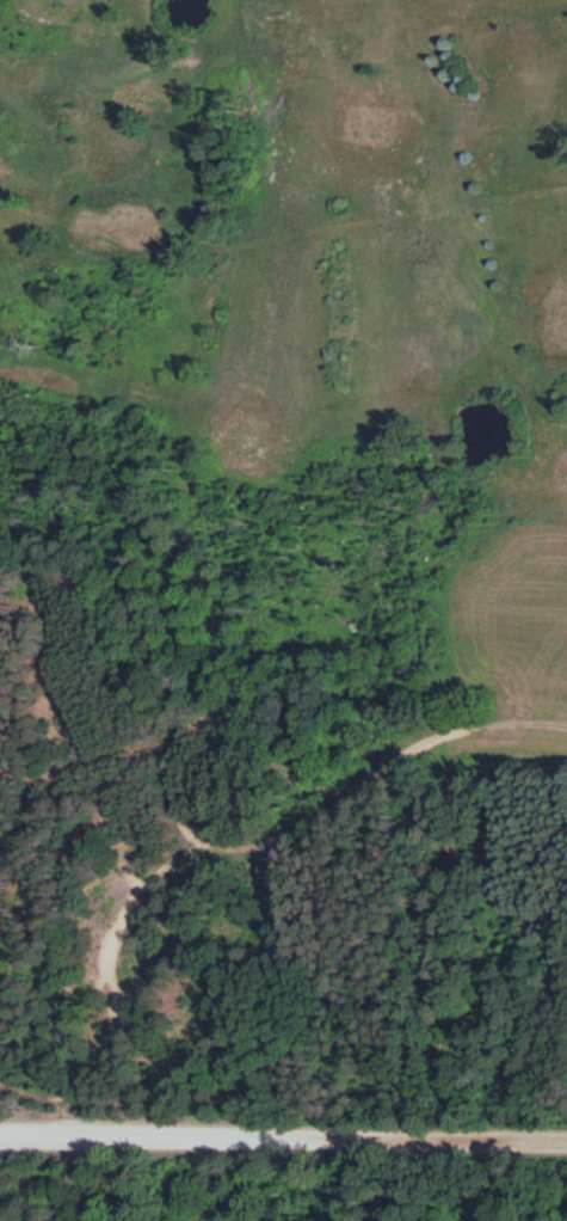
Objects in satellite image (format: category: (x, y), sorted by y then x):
park: (294, 237)
road: (283, 1131)

